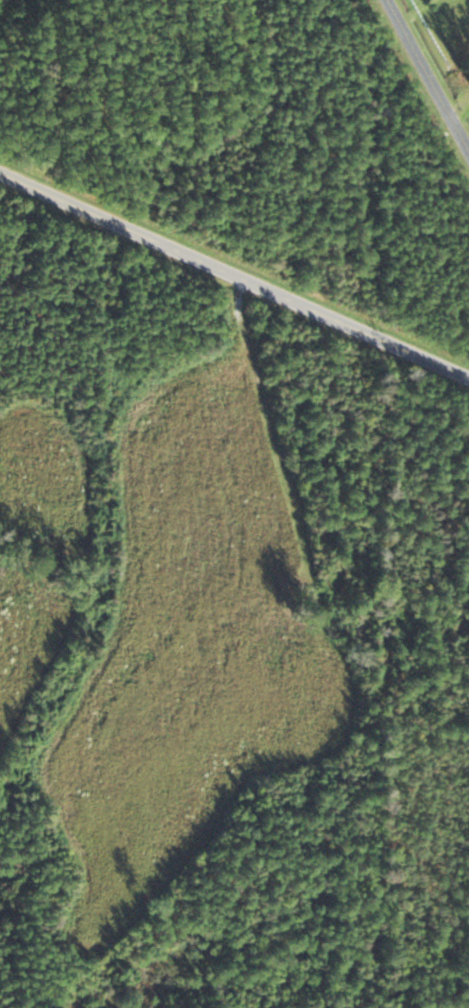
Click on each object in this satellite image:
road: (427, 75)
road: (234, 276)

